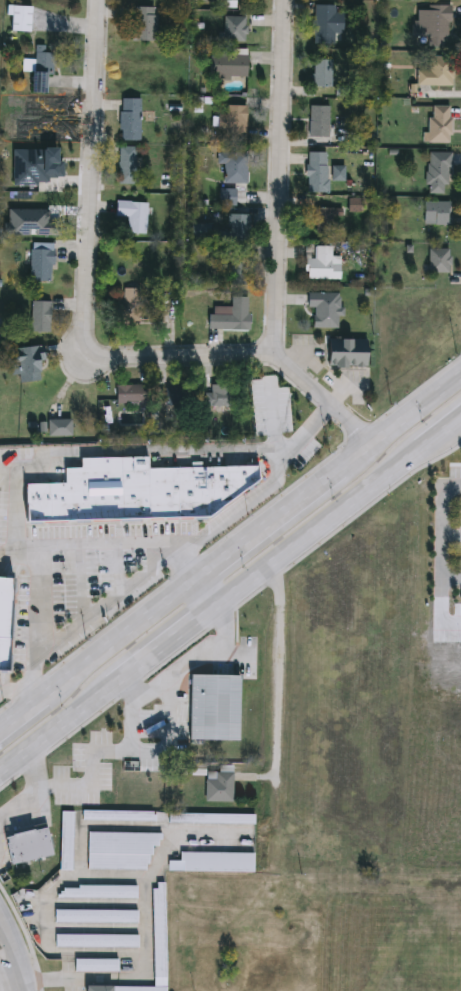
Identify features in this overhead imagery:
building: (222, 0)
building: (18, 19)
building: (142, 24)
building: (431, 24)
building: (325, 25)
building: (231, 30)
building: (225, 65)
building: (37, 68)
building: (435, 73)
building: (320, 74)
building: (129, 120)
building: (318, 122)
building: (230, 124)
building: (438, 125)
building: (125, 166)
building: (37, 168)
building: (233, 169)
building: (316, 173)
building: (436, 173)
road: (278, 178)
road: (100, 183)
building: (225, 198)
building: (18, 213)
building: (435, 214)
building: (132, 216)
building: (324, 219)
building: (237, 229)
building: (437, 261)
building: (40, 263)
building: (320, 266)
building: (128, 307)
building: (323, 310)
building: (37, 317)
building: (227, 318)
building: (345, 354)
road: (262, 357)
building: (26, 362)
building: (130, 395)
building: (176, 396)
building: (215, 396)
building: (57, 428)
road: (126, 454)
building: (134, 494)
road: (238, 508)
road: (442, 536)
road: (452, 536)
road: (44, 546)
road: (229, 551)
road: (451, 578)
road: (204, 591)
road: (229, 592)
building: (5, 623)
road: (185, 668)
road: (278, 676)
building: (212, 709)
building: (218, 785)
road: (32, 790)
building: (211, 820)
building: (65, 841)
building: (25, 846)
building: (119, 851)
building: (216, 863)
building: (98, 893)
building: (94, 917)
road: (147, 929)
building: (158, 931)
road: (14, 941)
building: (95, 941)
building: (94, 966)
road: (6, 968)
road: (14, 983)
building: (96, 988)
building: (139, 989)

